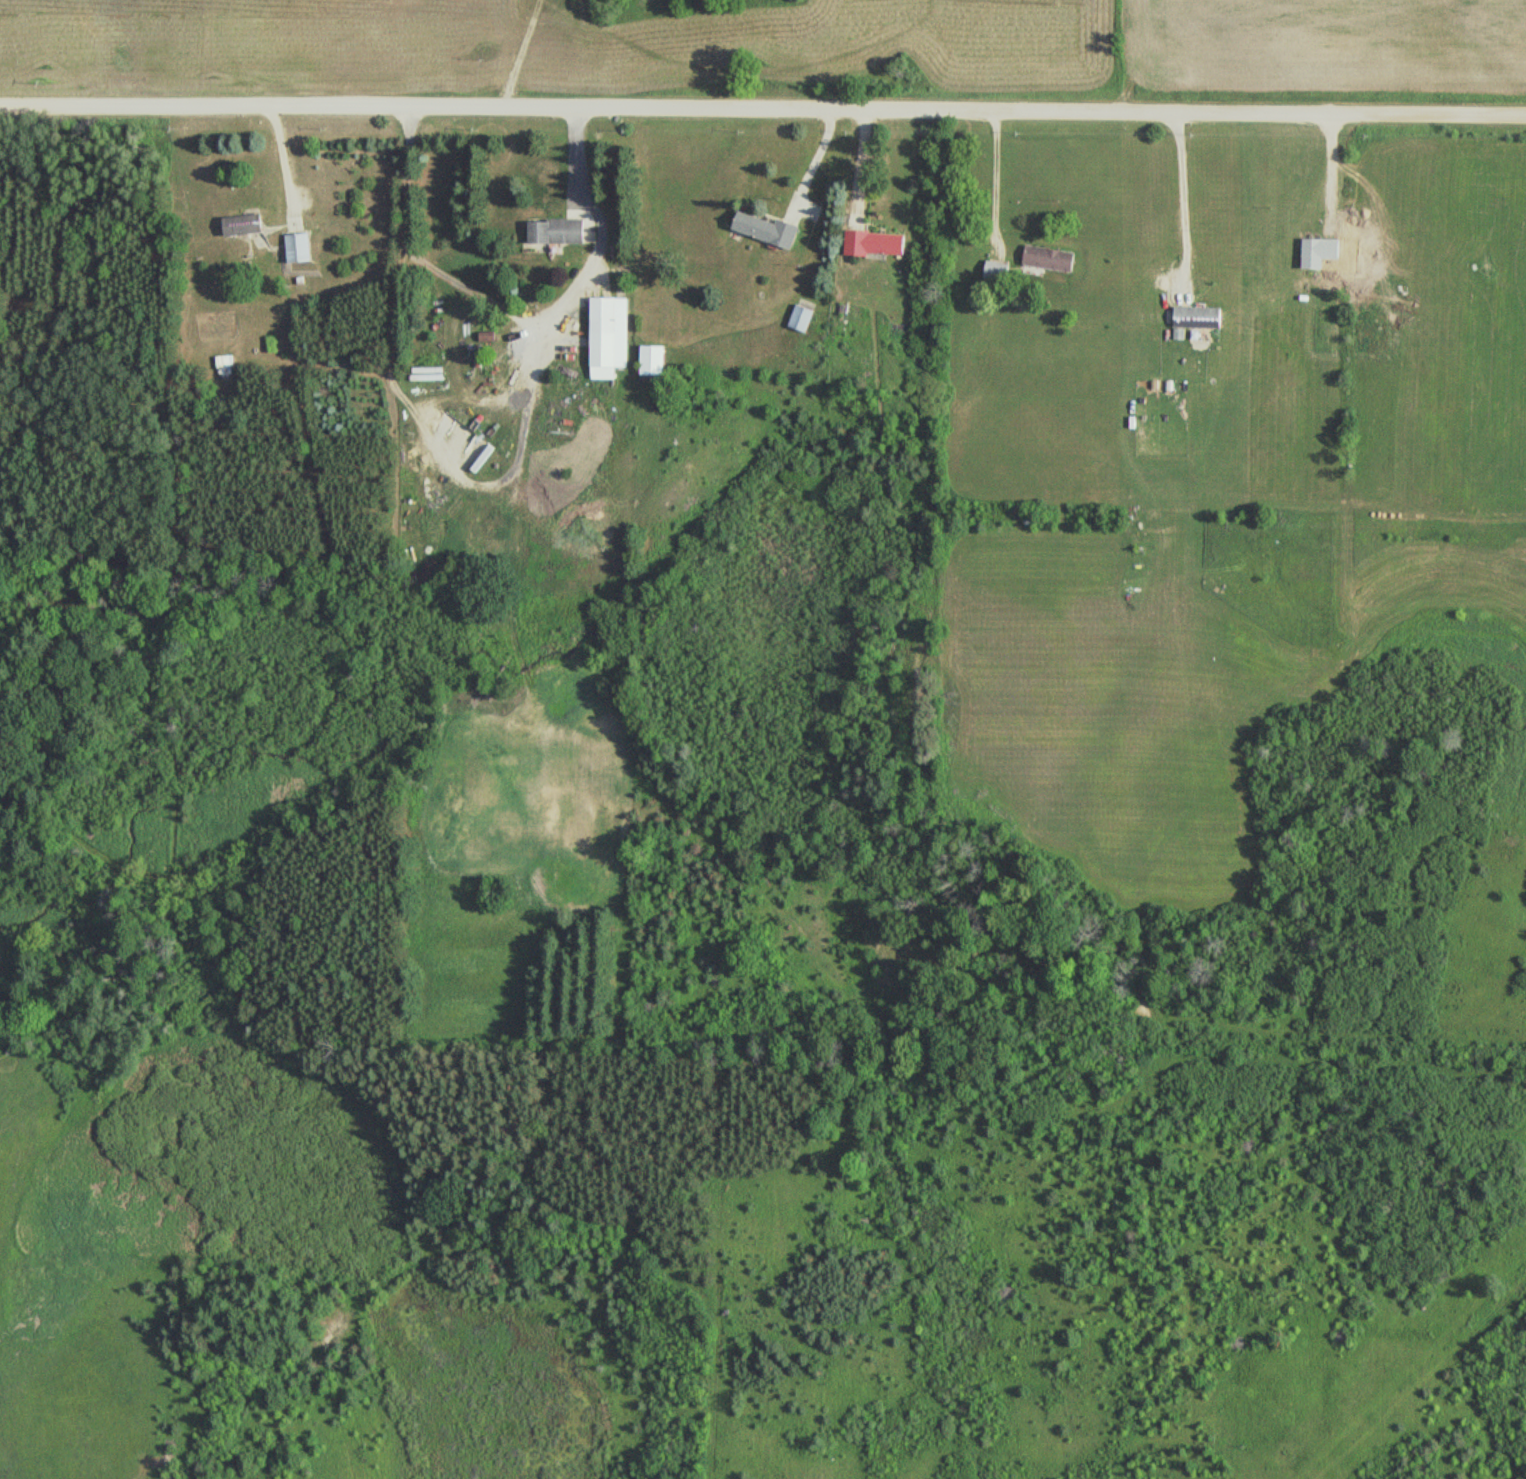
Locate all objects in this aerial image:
road: (763, 112)
building: (245, 225)
building: (769, 229)
building: (559, 231)
building: (878, 244)
building: (300, 248)
building: (1321, 252)
building: (1050, 258)
building: (997, 270)
building: (1199, 317)
building: (804, 318)
building: (610, 336)
building: (478, 355)
building: (655, 360)
building: (225, 365)
building: (429, 373)

